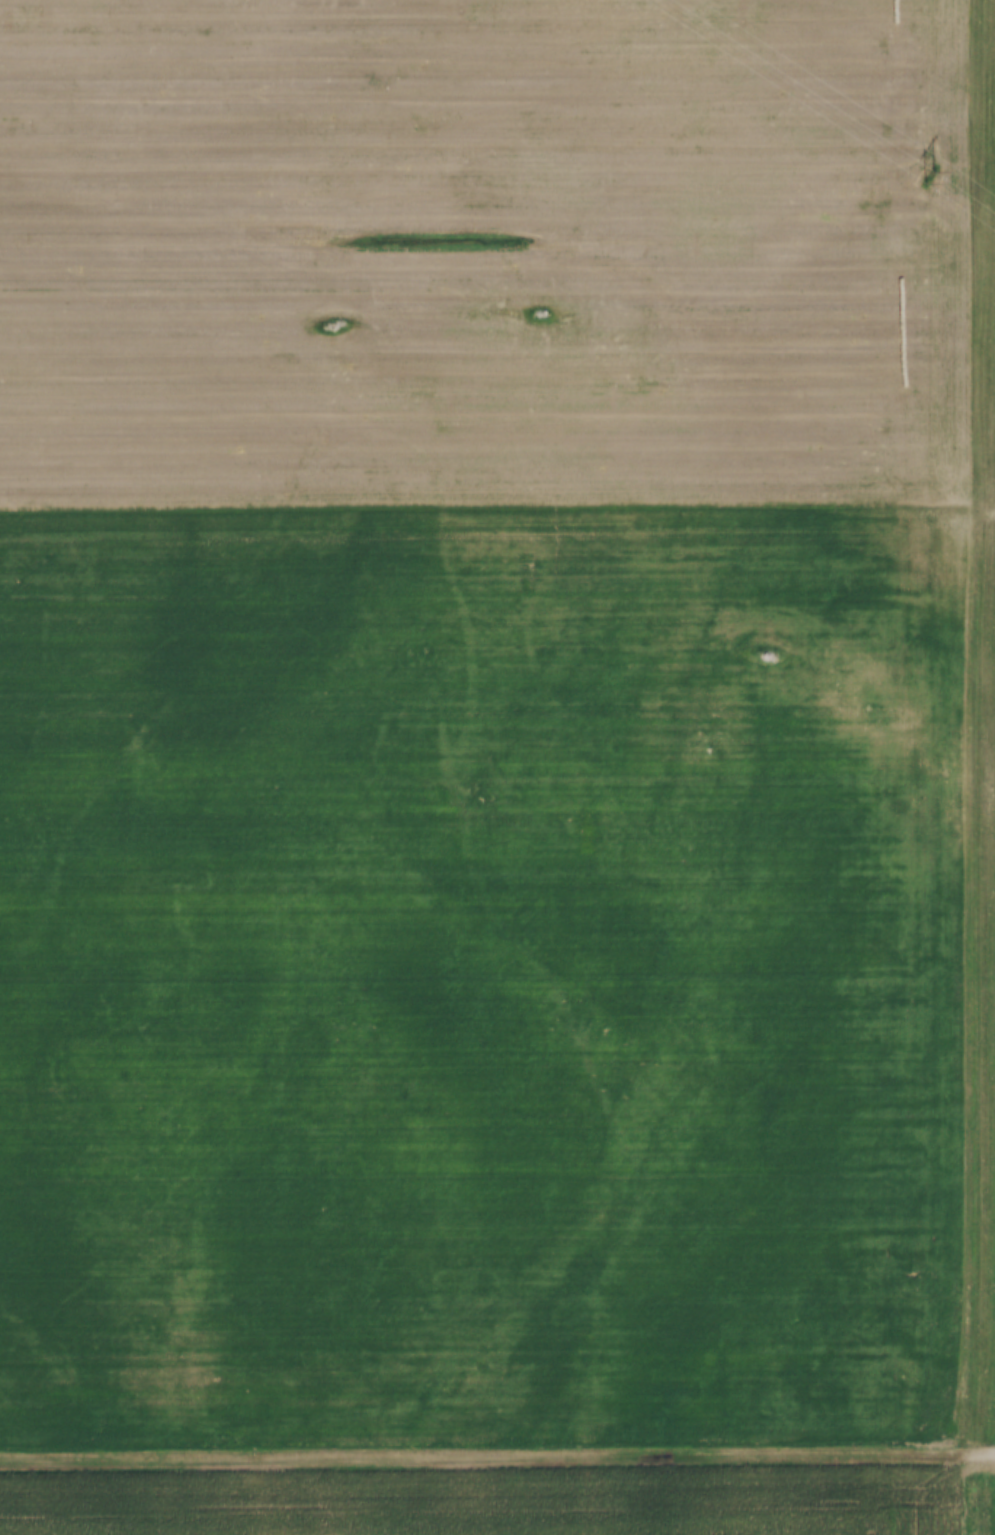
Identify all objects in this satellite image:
power tower: (930, 174)
road: (497, 1461)

